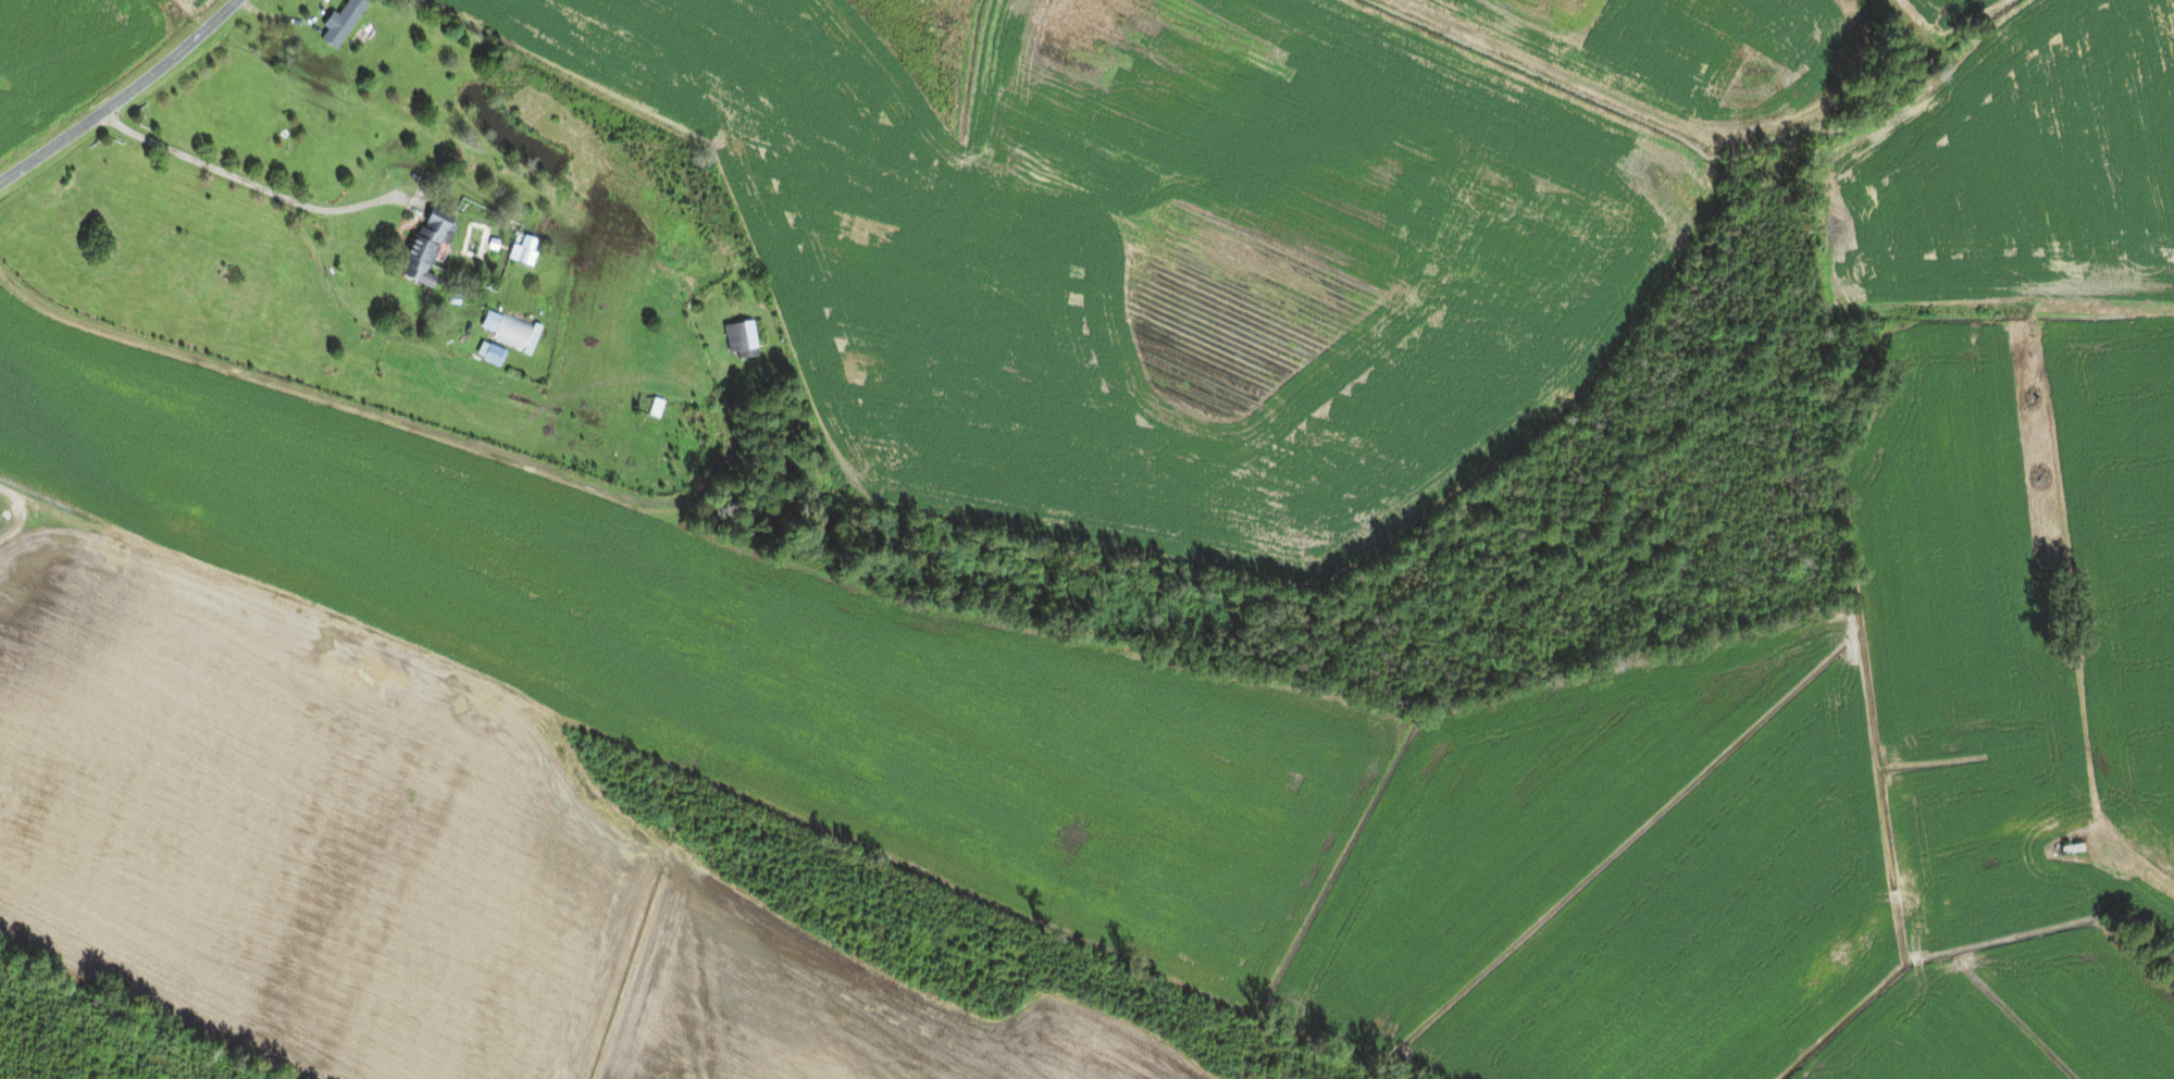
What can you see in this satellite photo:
road: (285, 20)
building: (340, 22)
road: (122, 96)
road: (241, 181)
building: (424, 248)
building: (523, 250)
building: (510, 331)
building: (741, 340)
building: (489, 354)
road: (339, 407)
building: (655, 409)
road: (97, 530)
building: (2072, 849)

